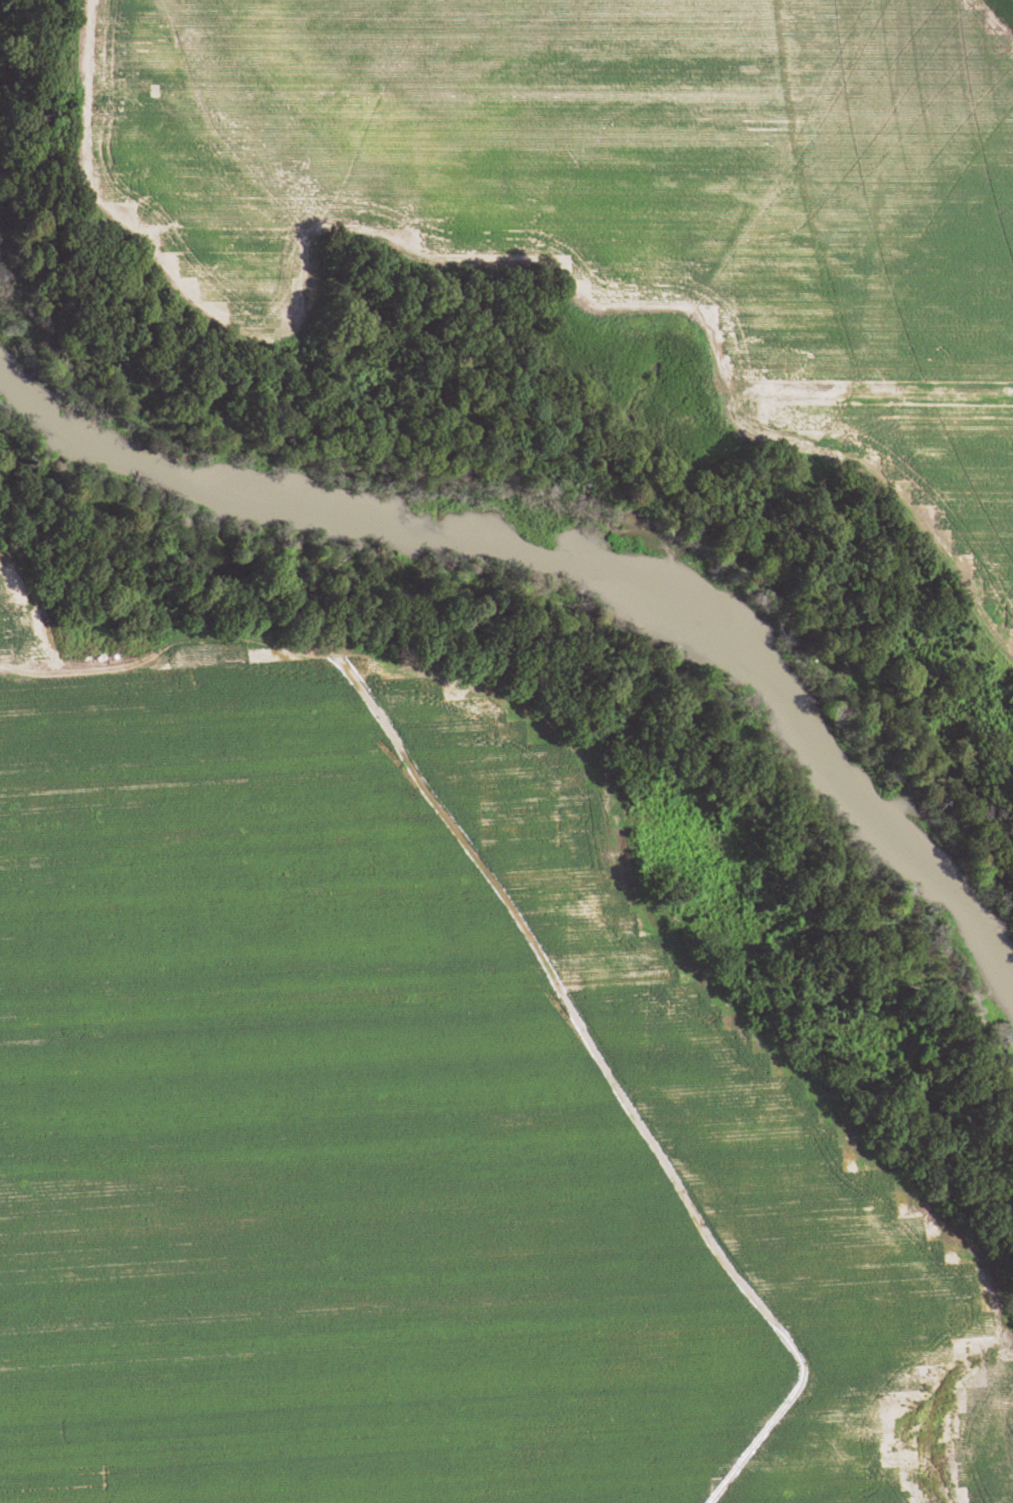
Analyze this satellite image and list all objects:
road: (993, 33)
river: (590, 570)
road: (622, 801)

